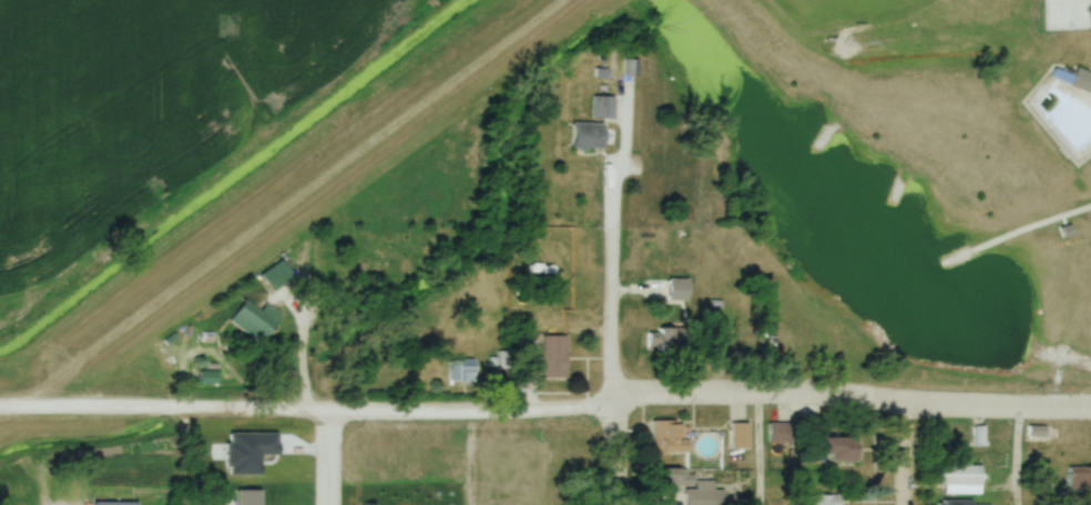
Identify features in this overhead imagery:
park: (852, 12)
building: (630, 70)
building: (1080, 80)
building: (603, 107)
building: (582, 135)
building: (277, 276)
road: (611, 281)
building: (677, 290)
building: (257, 320)
building: (545, 360)
building: (461, 371)
road: (850, 400)
road: (306, 410)
building: (741, 435)
building: (955, 435)
building: (667, 437)
road: (757, 450)
building: (837, 450)
road: (611, 453)
road: (901, 455)
road: (1013, 456)
road: (184, 457)
road: (334, 457)
building: (309, 472)
building: (1079, 476)
building: (235, 477)
building: (673, 480)
building: (961, 481)
building: (705, 494)
building: (827, 501)
building: (959, 503)

